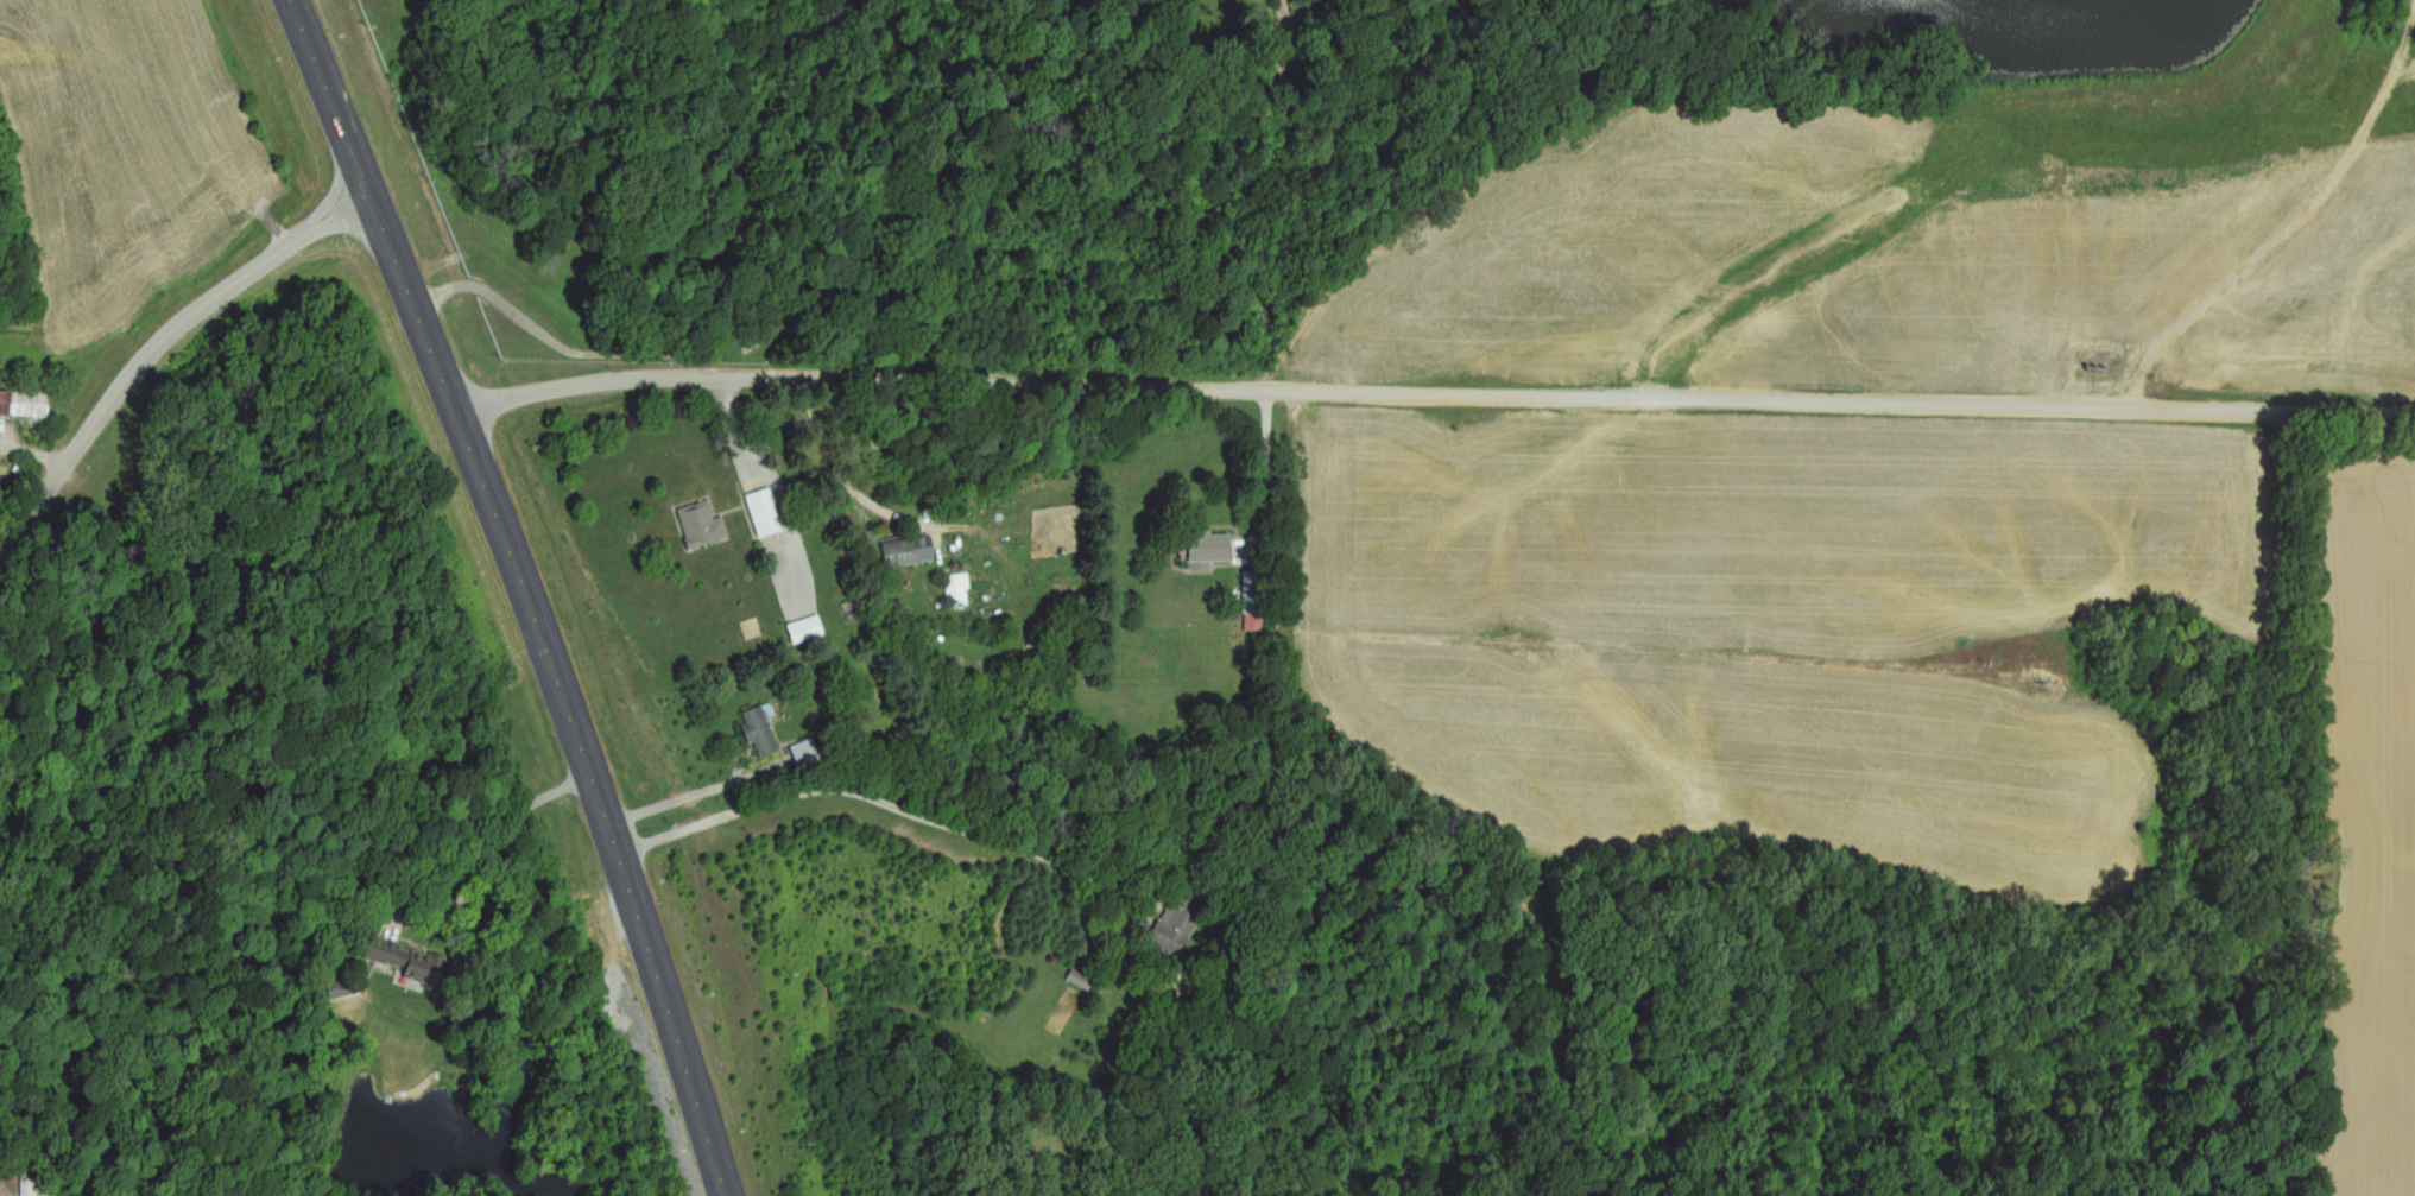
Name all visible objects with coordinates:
road: (1210, 13)
road: (873, 176)
road: (2271, 222)
road: (158, 347)
road: (1435, 394)
building: (25, 404)
road: (837, 470)
road: (775, 475)
building: (767, 513)
building: (704, 526)
building: (1212, 549)
building: (910, 550)
building: (961, 590)
road: (527, 593)
building: (1257, 602)
building: (809, 629)
building: (763, 732)
building: (809, 753)
road: (881, 804)
building: (1182, 919)
building: (412, 962)
road: (584, 972)
building: (337, 992)
road: (1690, 1160)
building: (5, 1189)

